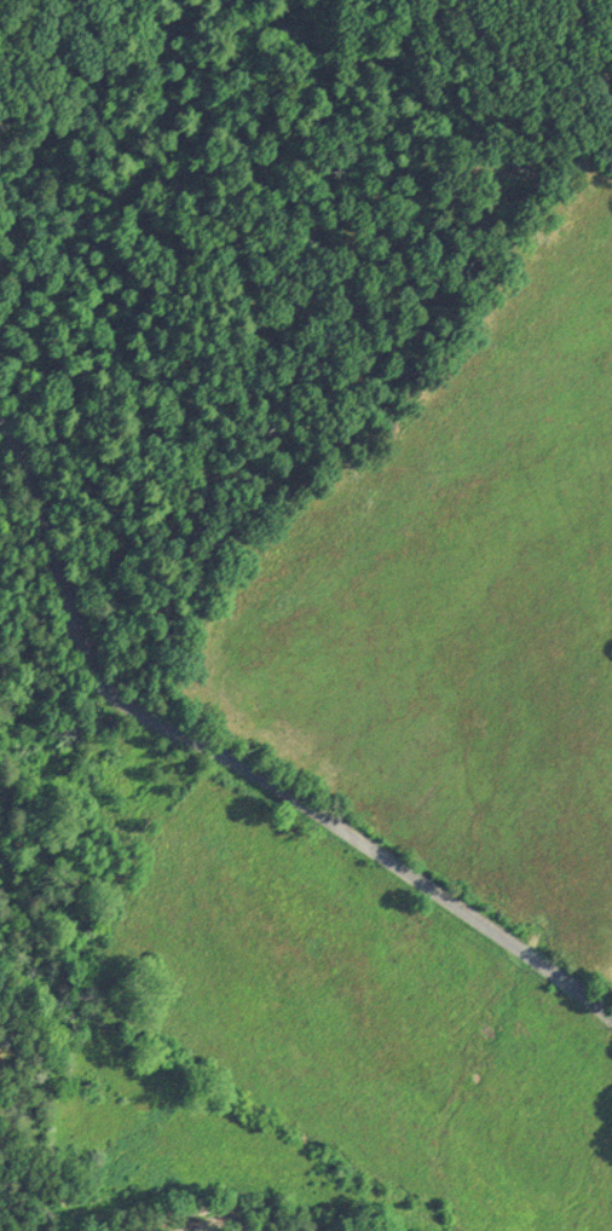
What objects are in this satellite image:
road: (241, 773)

